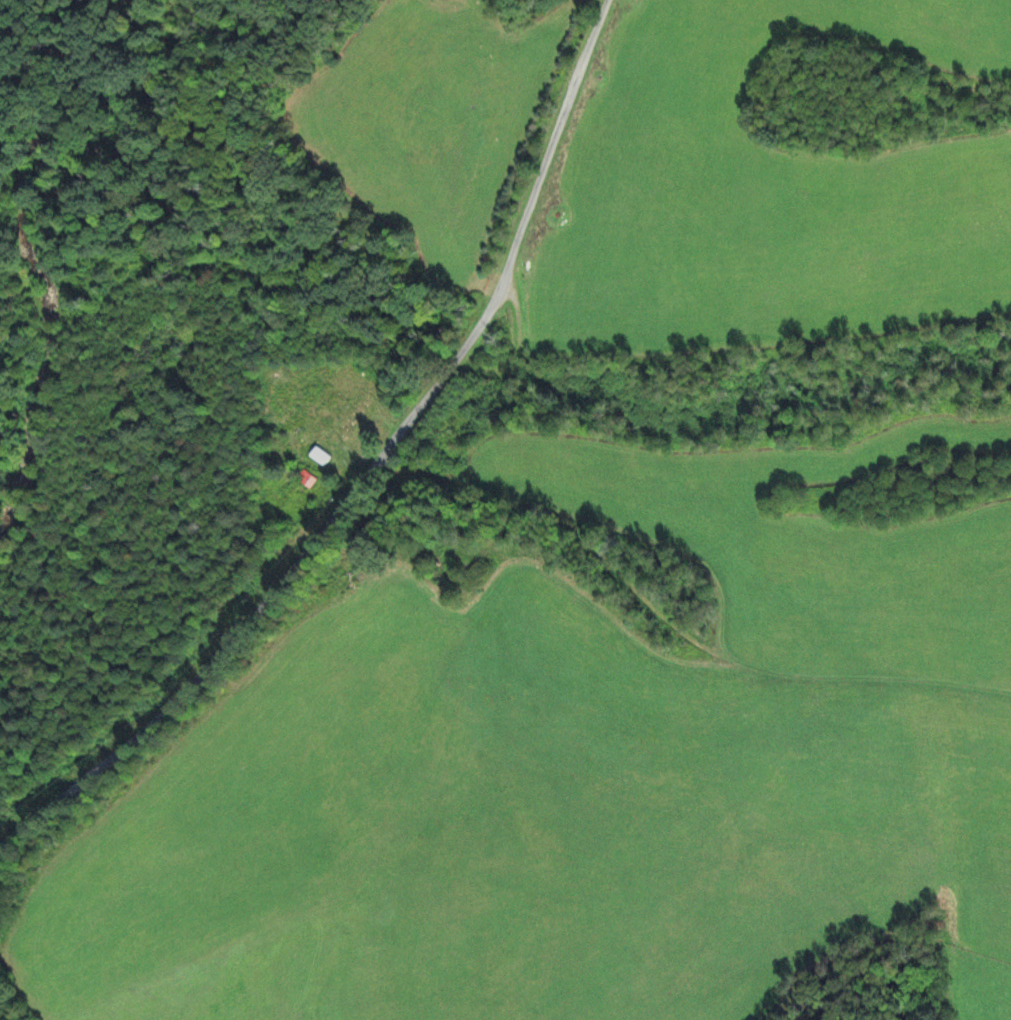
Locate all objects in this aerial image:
building: (355, 417)
road: (371, 471)

